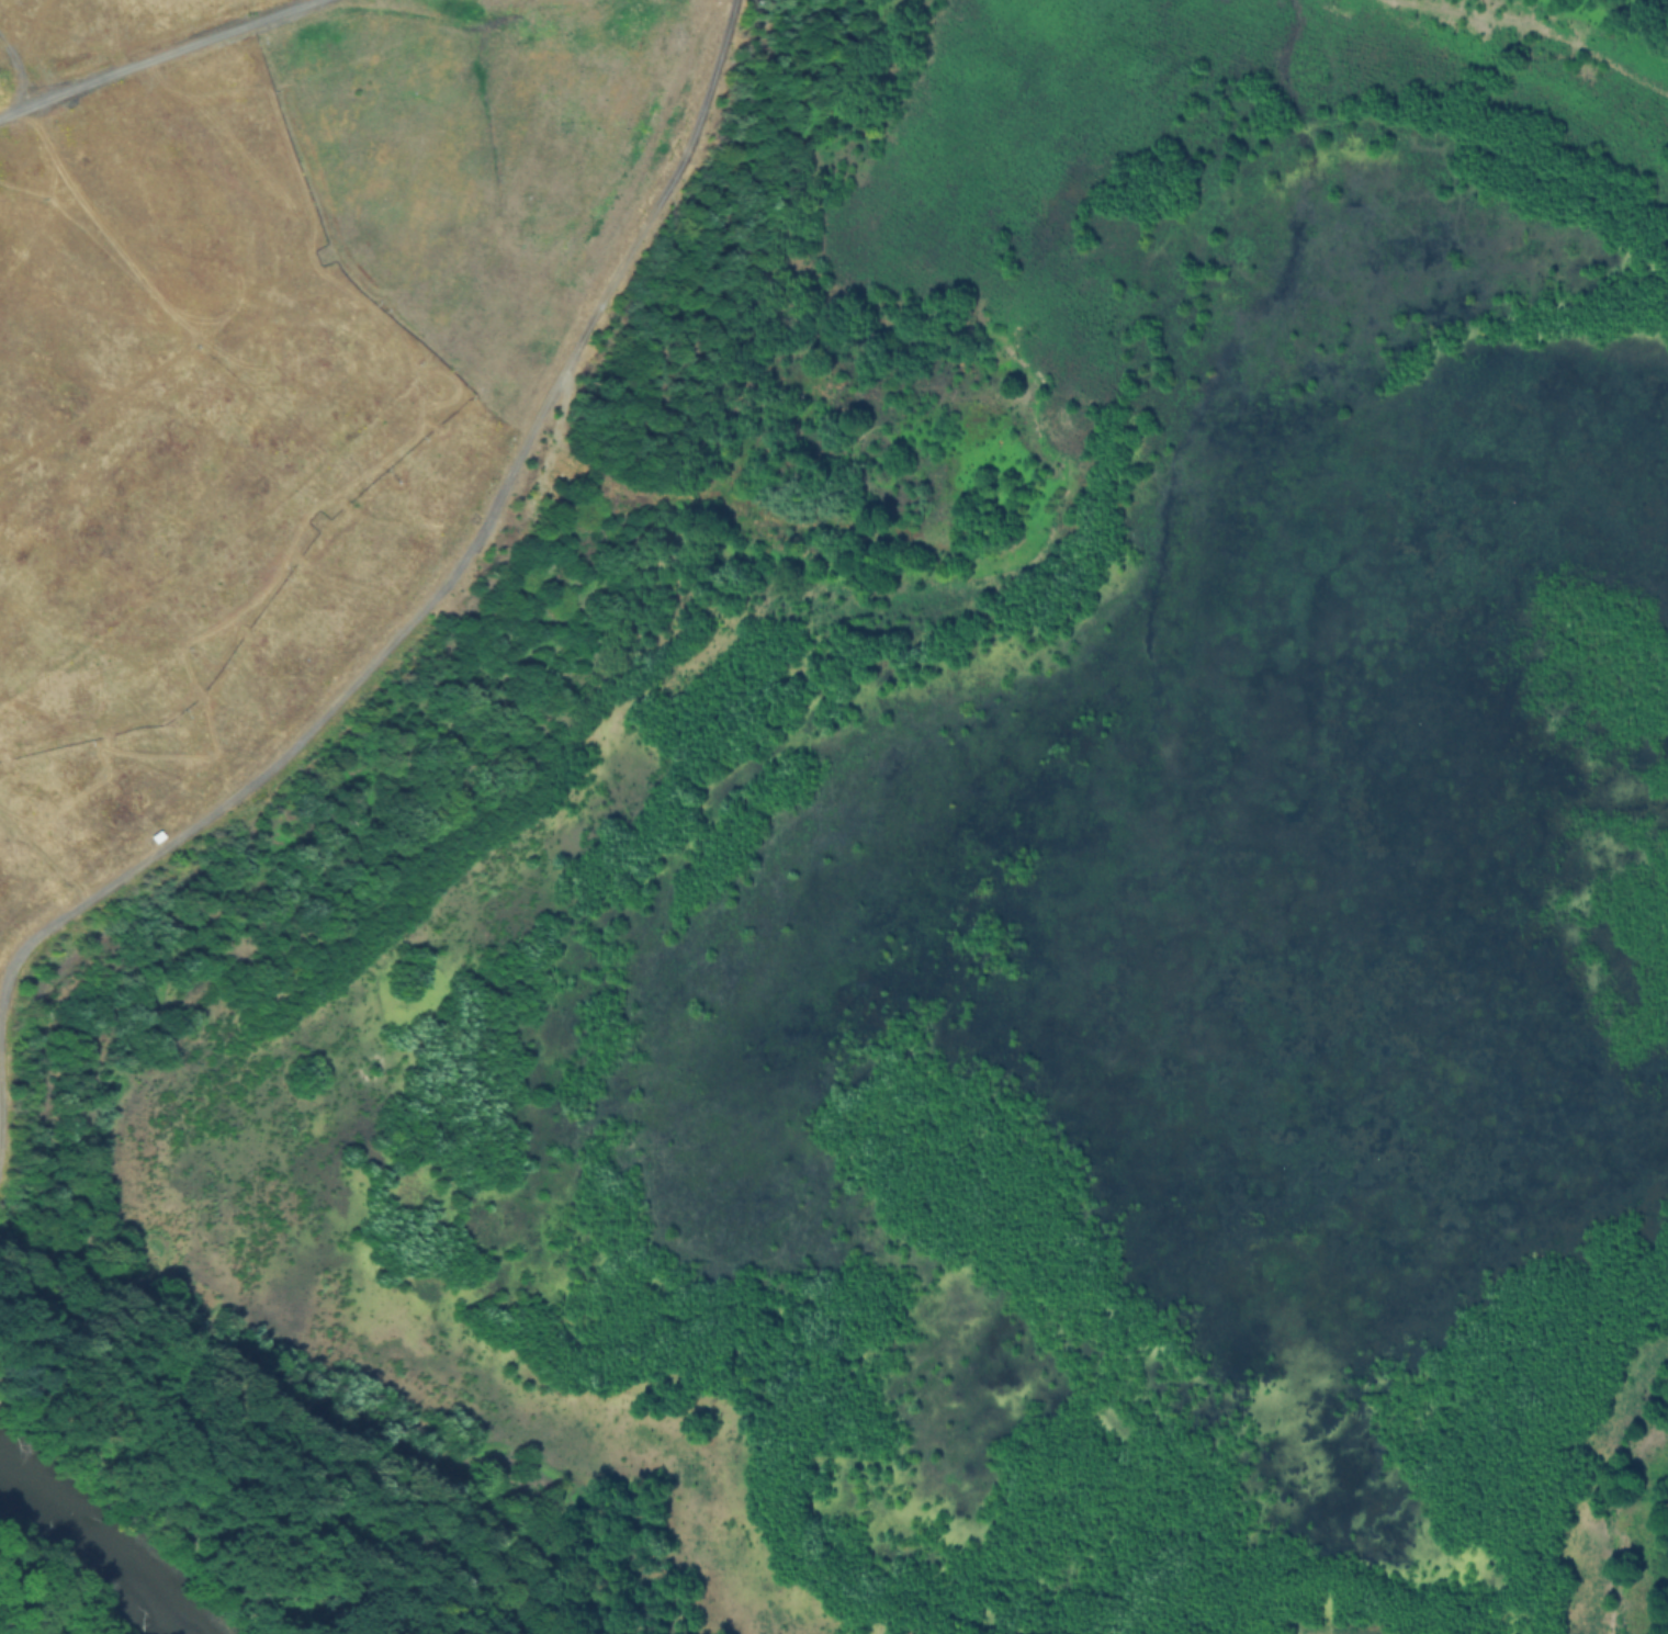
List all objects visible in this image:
road: (1542, 29)
road: (155, 55)
road: (453, 571)

